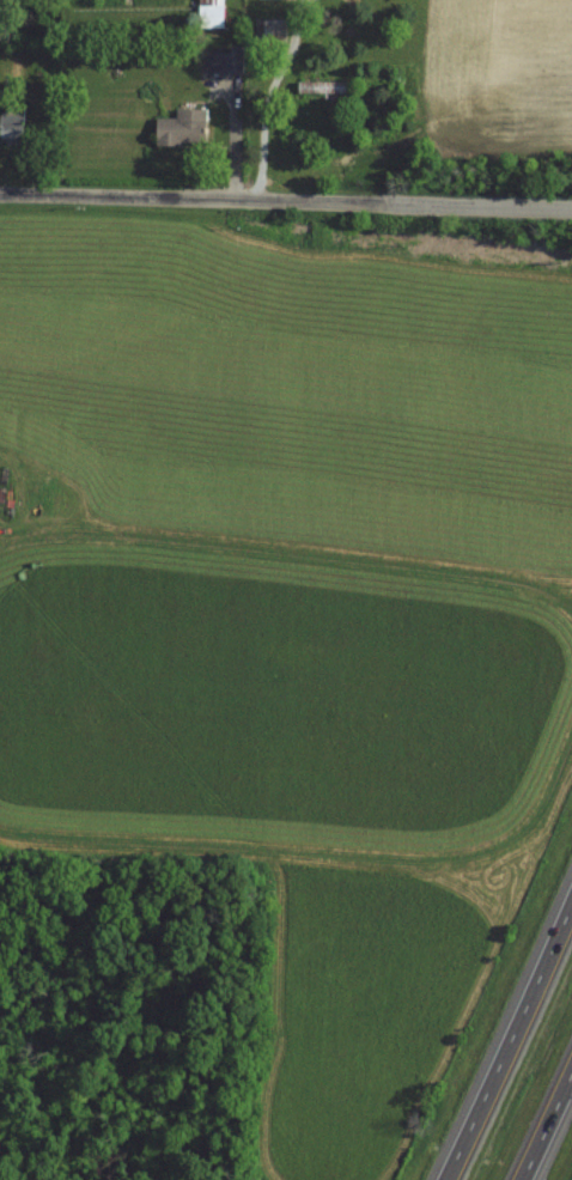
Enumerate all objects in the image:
building: (213, 13)
building: (270, 30)
building: (226, 60)
building: (325, 86)
road: (270, 98)
building: (13, 123)
building: (184, 127)
road: (236, 147)
road: (285, 201)
road: (506, 1038)
road: (546, 1123)

